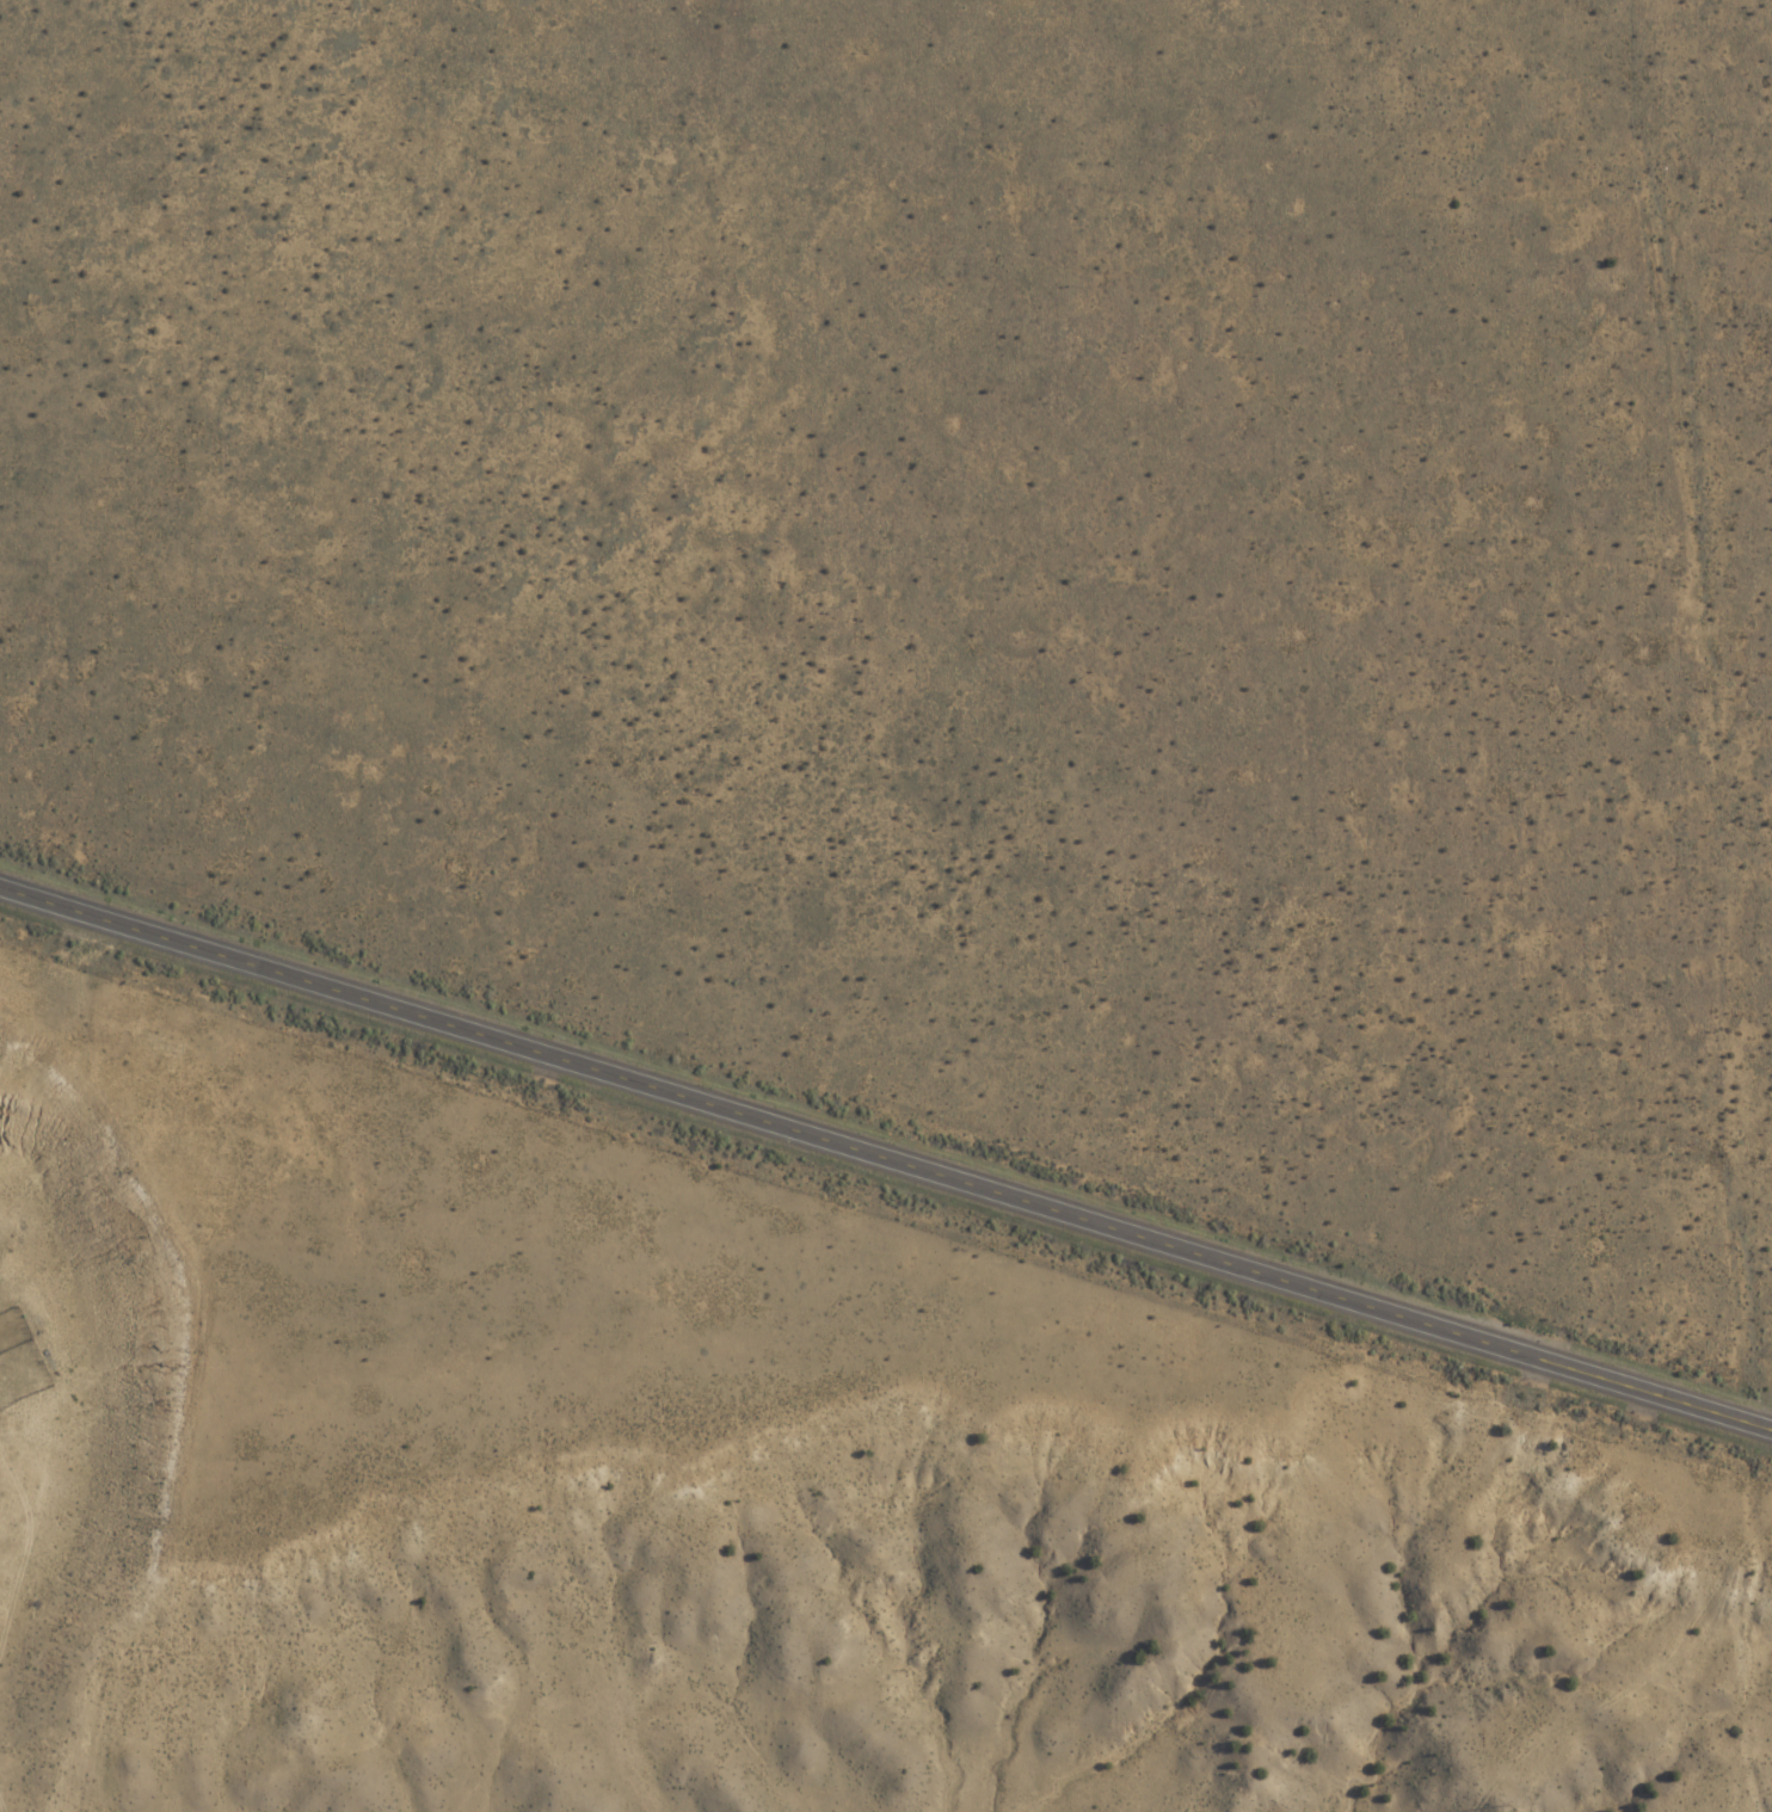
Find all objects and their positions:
road: (886, 1158)

